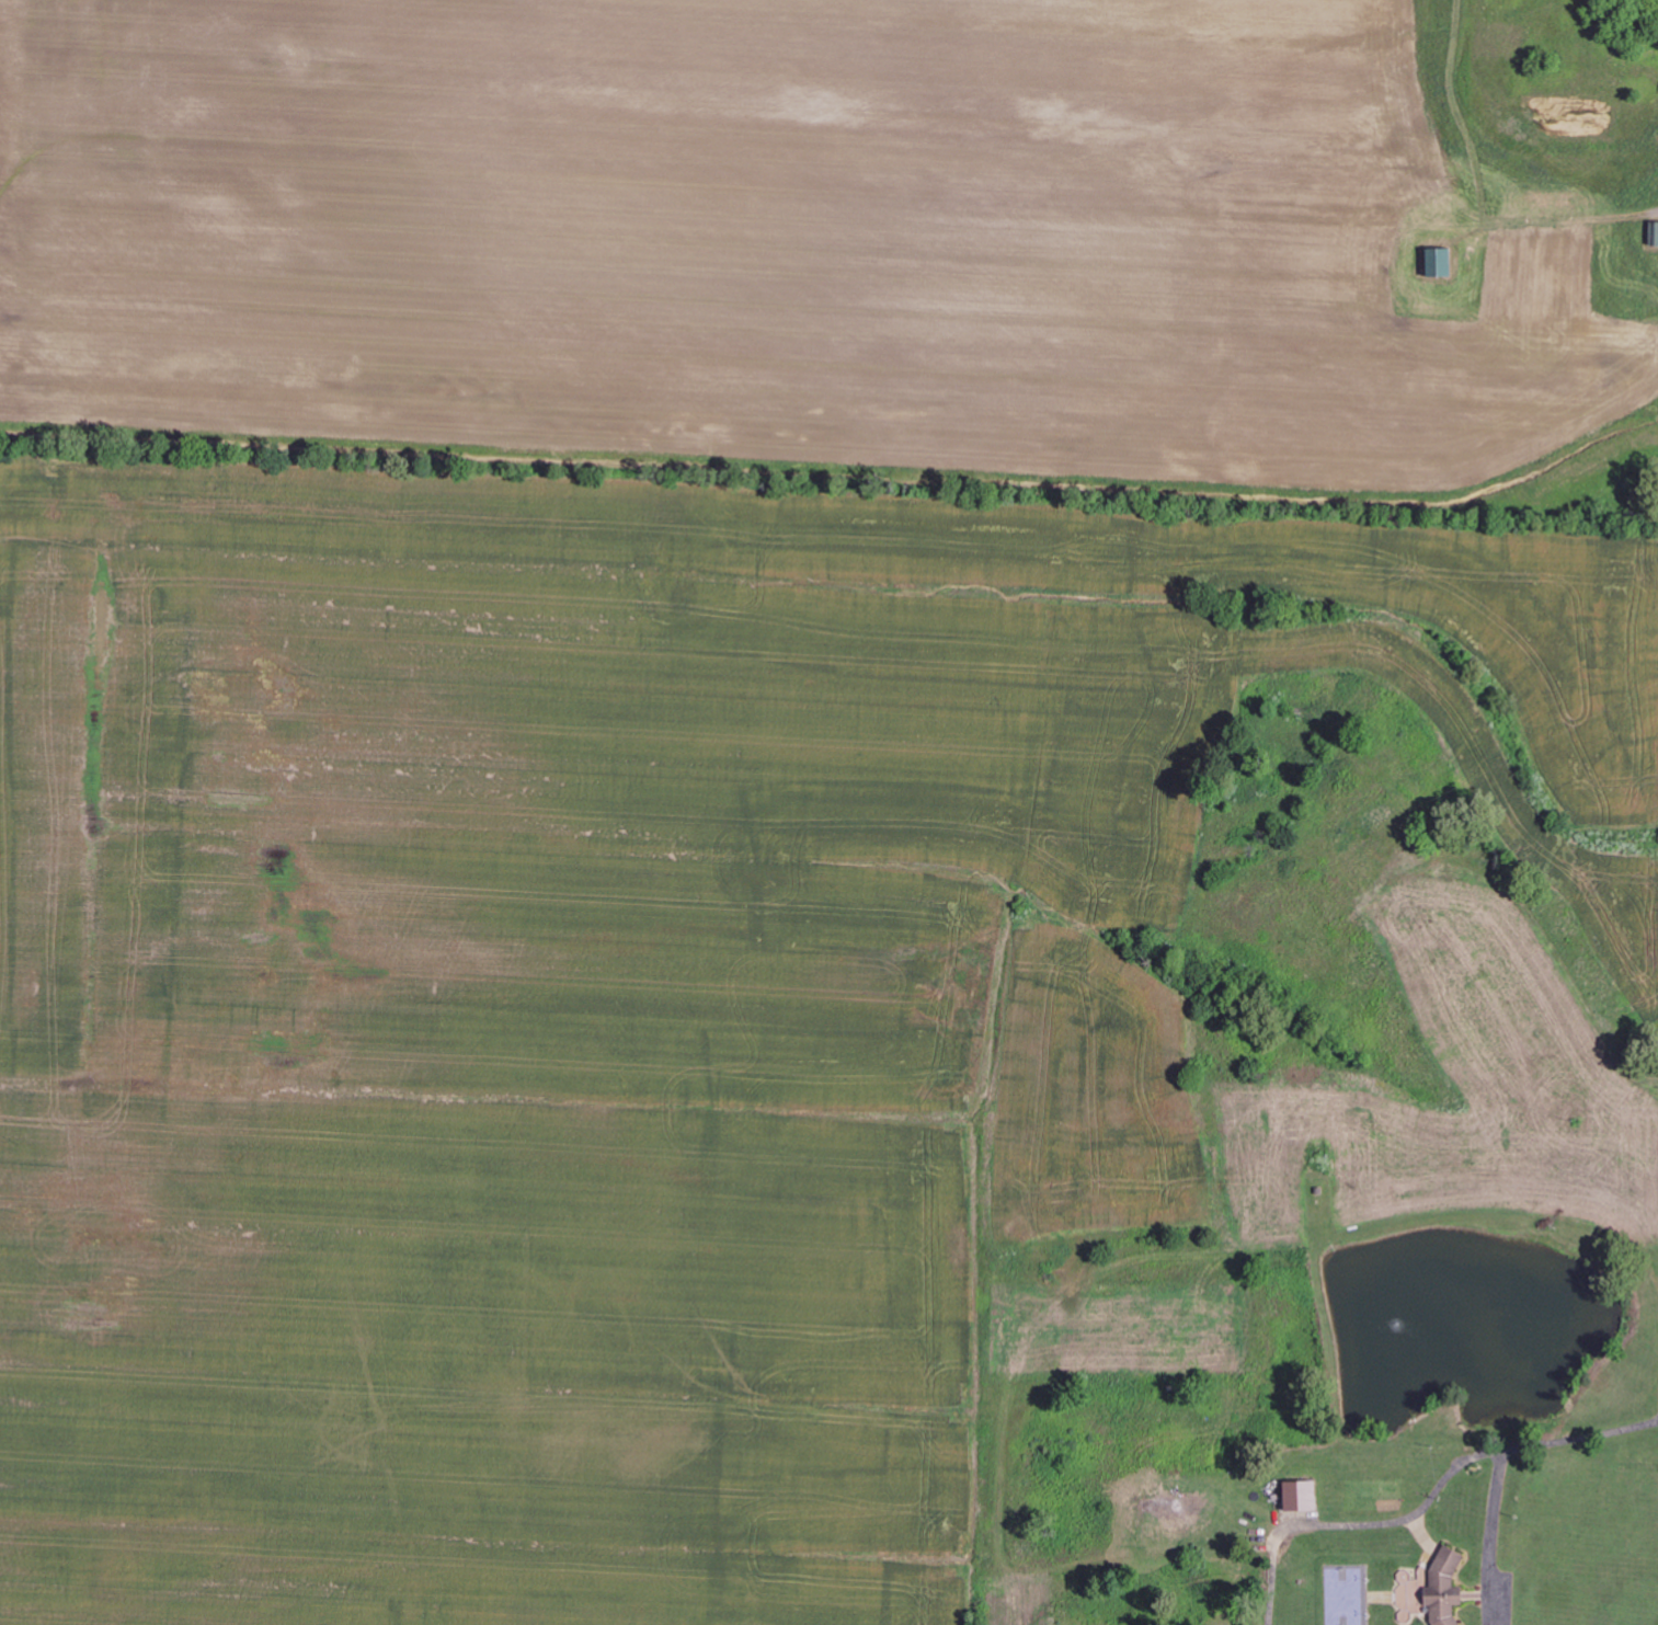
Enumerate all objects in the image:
building: (1442, 263)
road: (1532, 916)
road: (1335, 1401)
road: (1580, 1437)
building: (1303, 1496)
road: (1357, 1523)
road: (1491, 1537)
building: (1448, 1587)
building: (1414, 1592)

